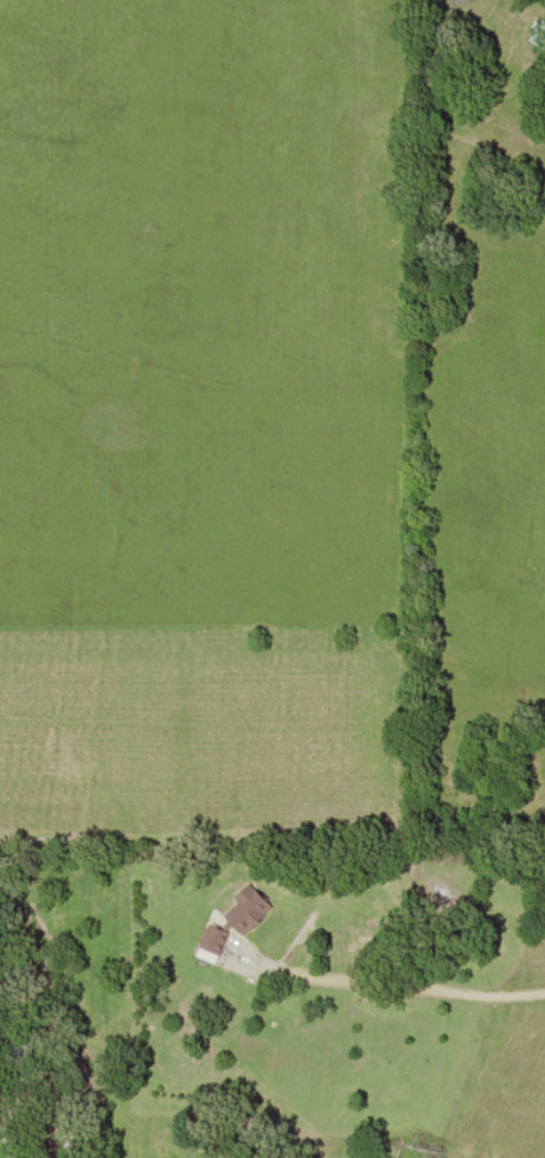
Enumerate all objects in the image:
building: (237, 916)
road: (392, 983)

